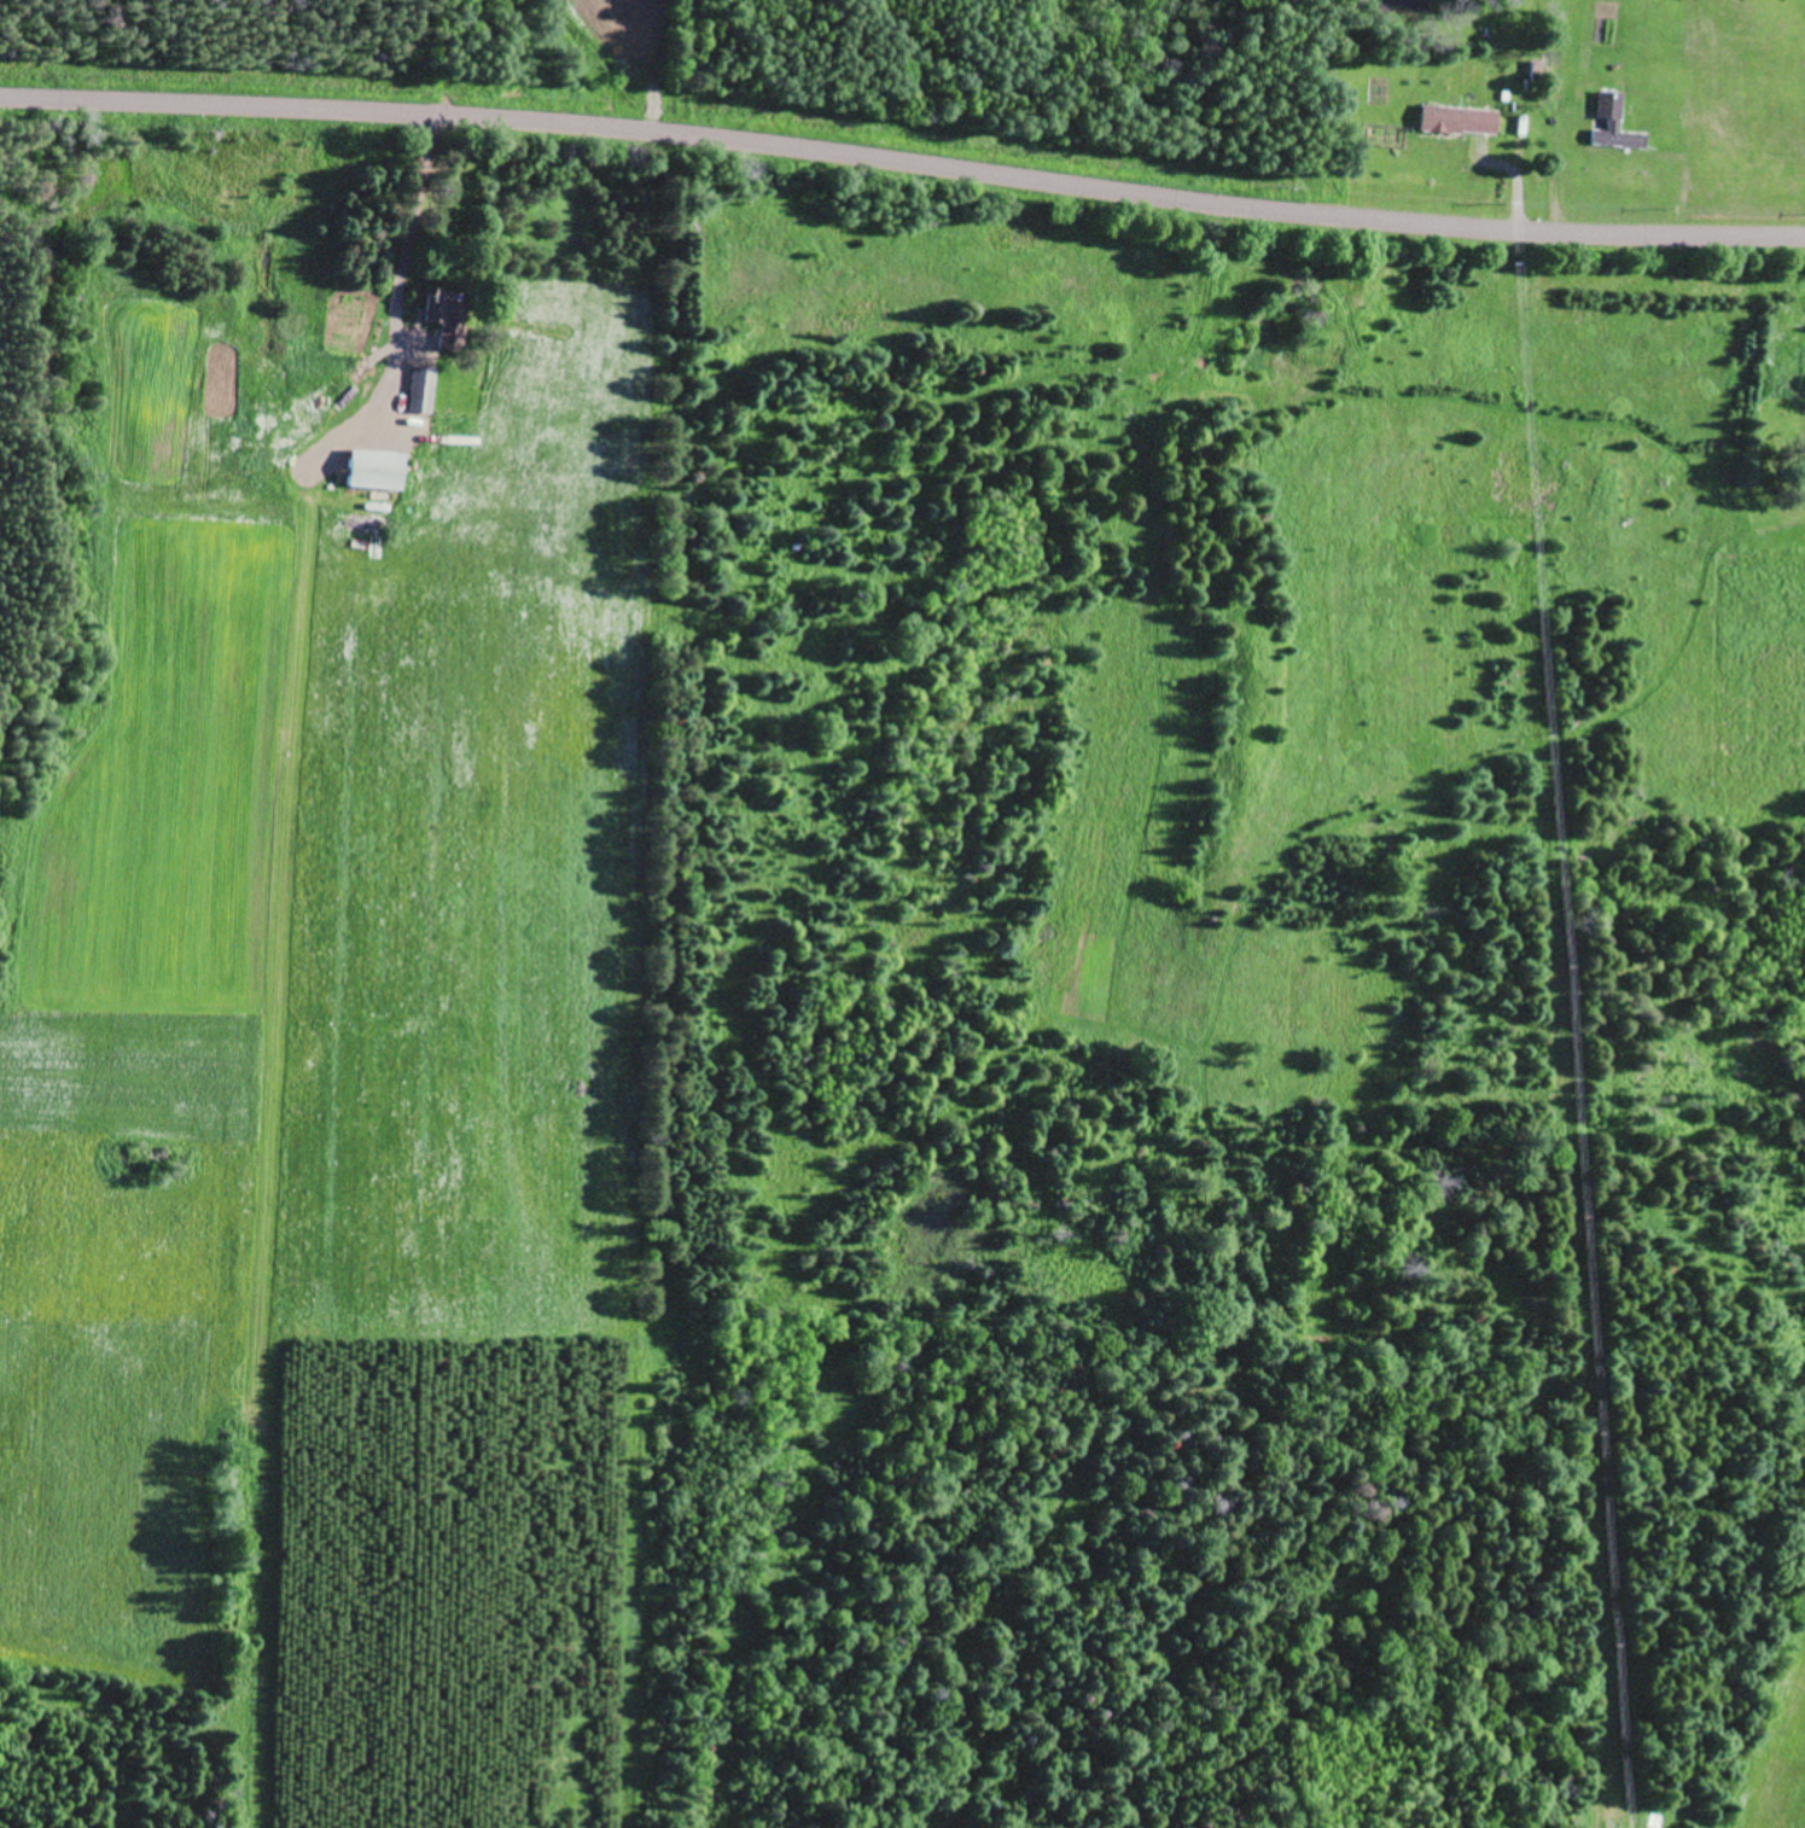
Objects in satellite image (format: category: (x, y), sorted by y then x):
building: (1457, 120)
building: (1614, 121)
road: (902, 177)
building: (448, 315)
building: (423, 389)
building: (377, 467)

